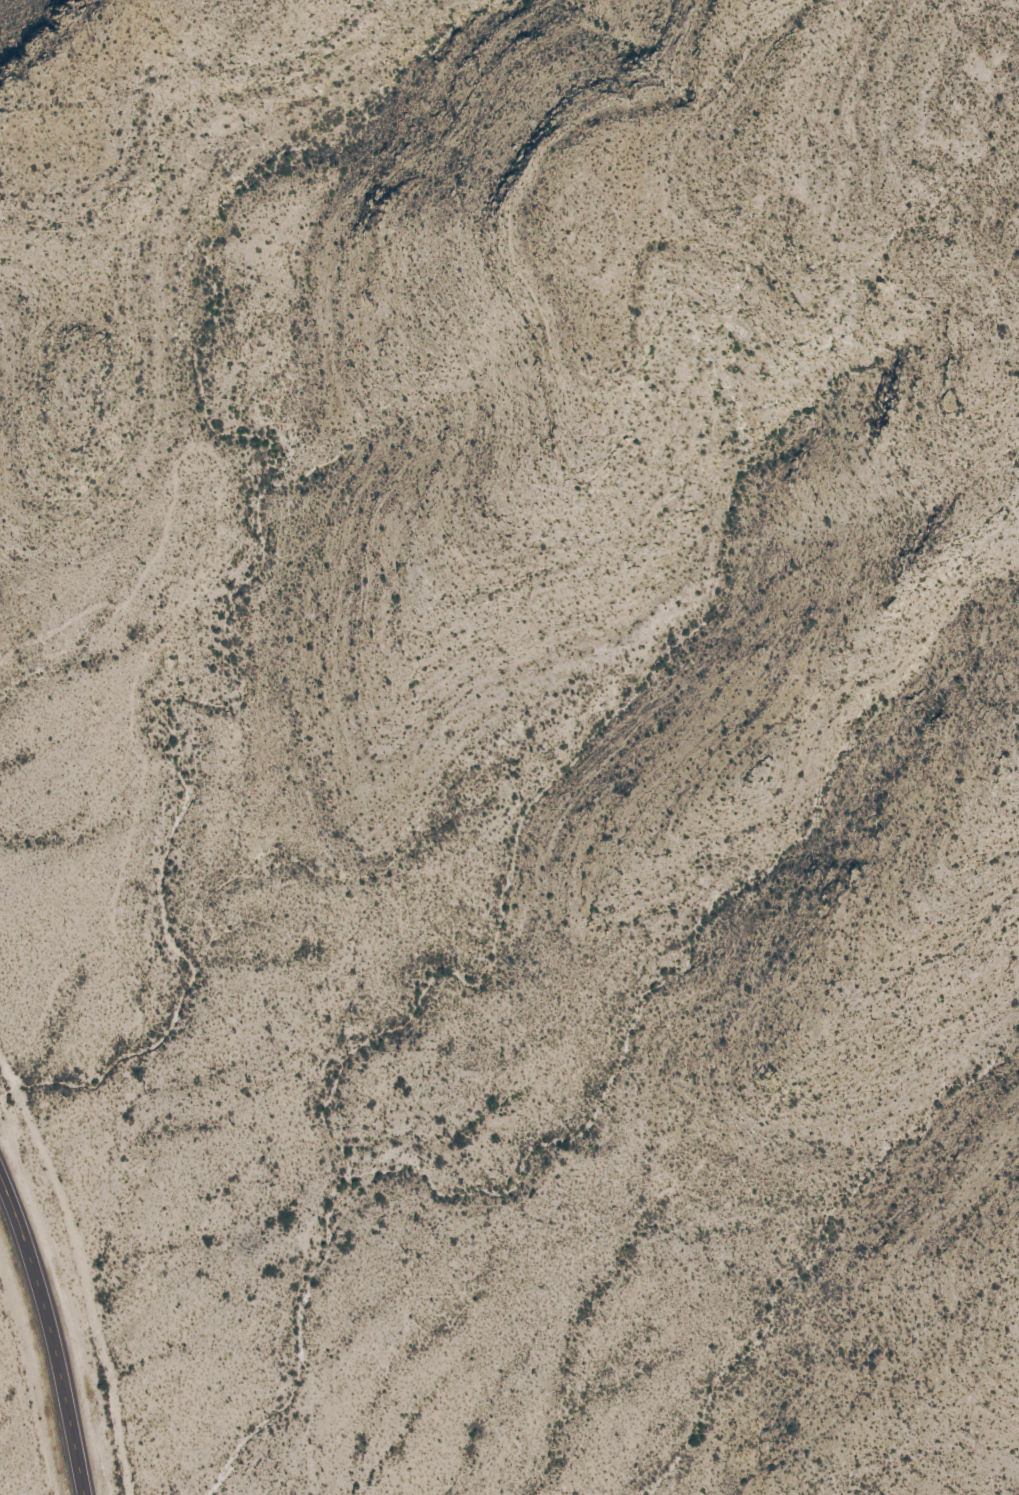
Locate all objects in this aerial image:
road: (58, 1315)

